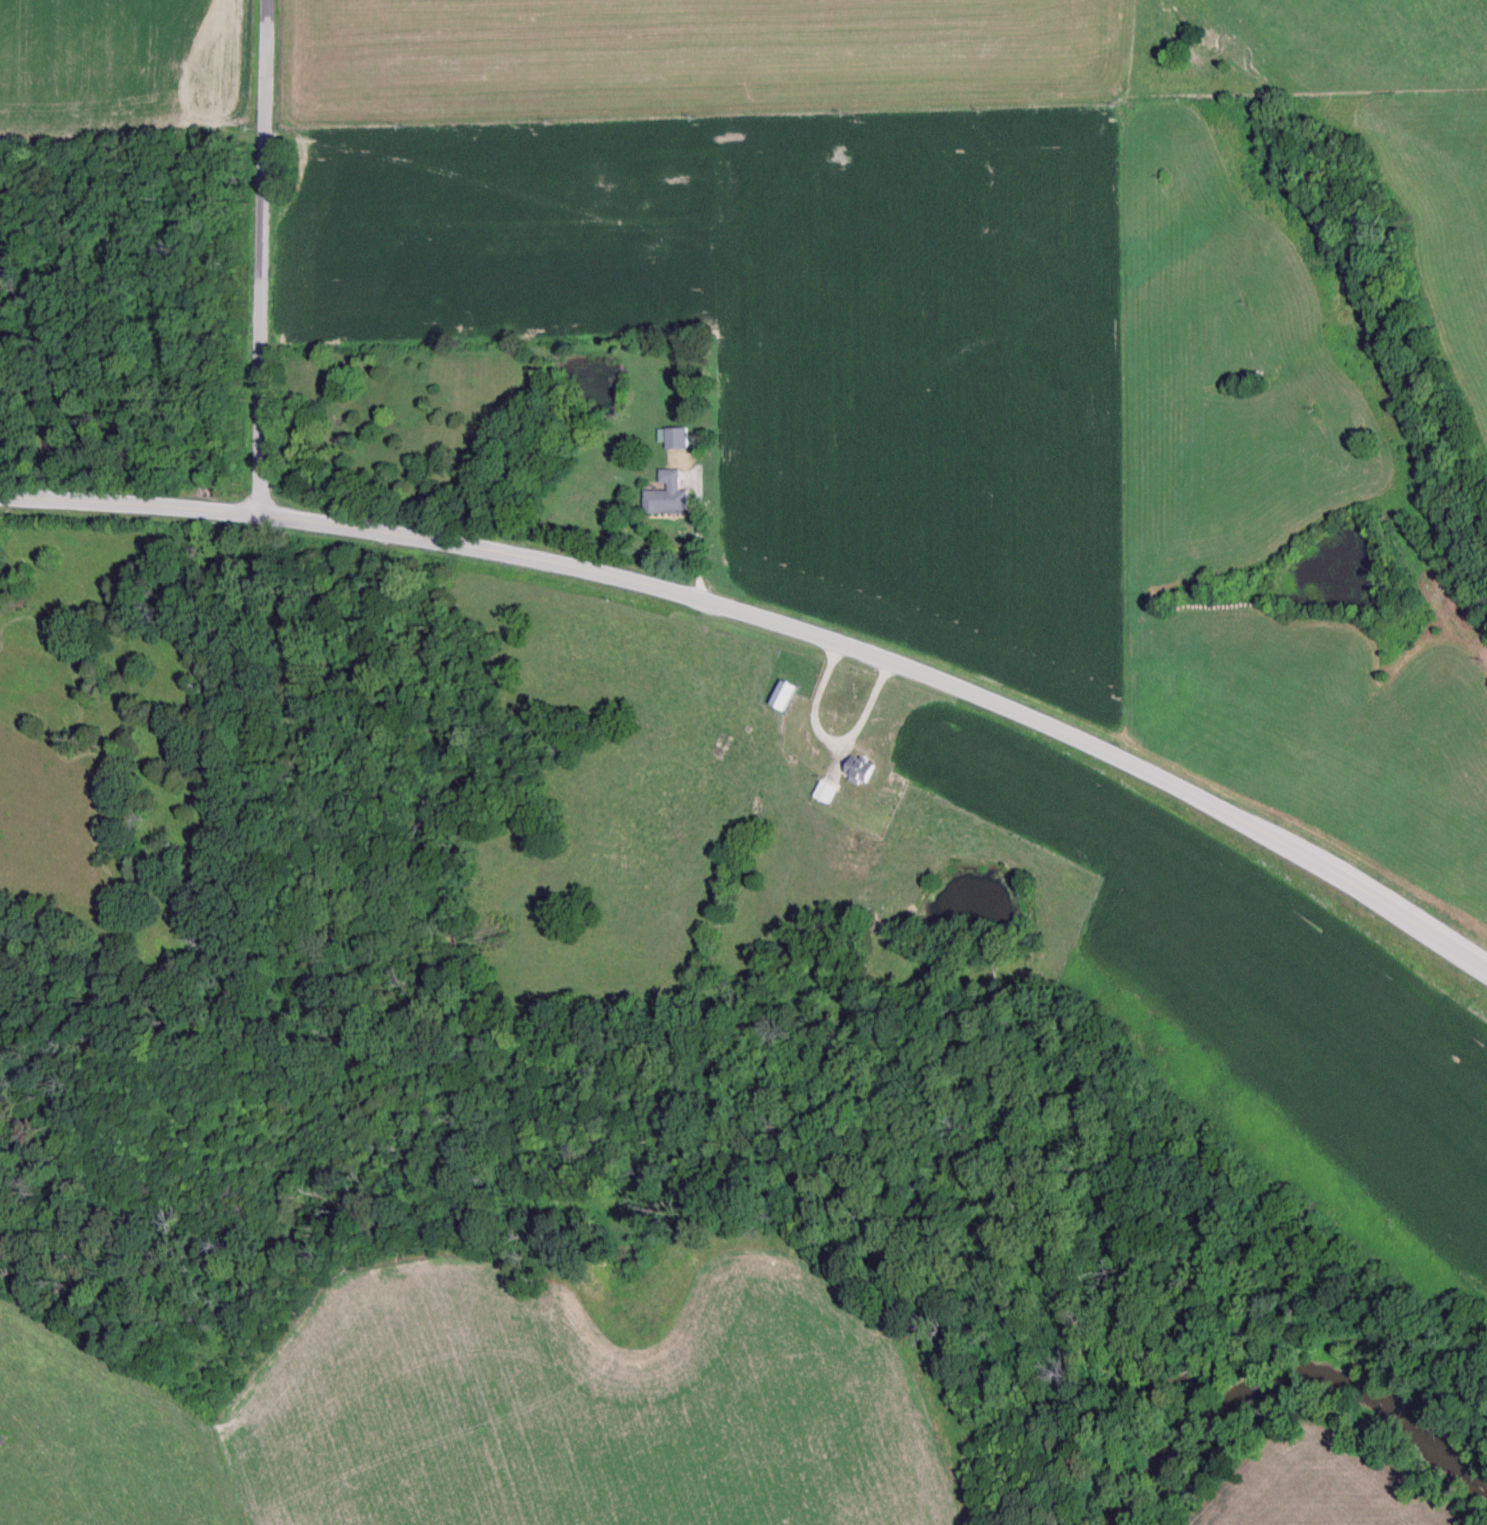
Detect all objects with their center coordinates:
road: (250, 257)
building: (676, 440)
building: (666, 497)
road: (780, 620)
building: (1152, 687)
building: (783, 697)
building: (858, 772)
building: (825, 794)
building: (860, 844)
river: (1290, 1377)

